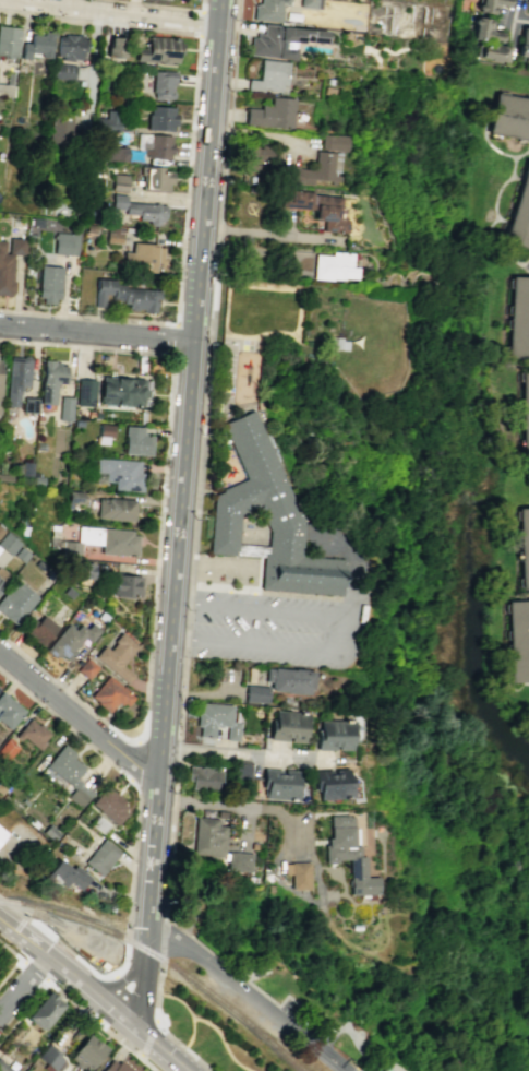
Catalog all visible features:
building: (178, 0)
building: (310, 3)
road: (163, 5)
building: (491, 5)
building: (268, 10)
road: (125, 11)
road: (519, 20)
road: (200, 23)
building: (8, 40)
building: (282, 40)
building: (488, 41)
building: (524, 43)
building: (37, 46)
building: (70, 47)
building: (115, 47)
building: (159, 50)
road: (93, 62)
building: (63, 71)
building: (269, 76)
building: (161, 84)
building: (272, 114)
building: (509, 116)
building: (160, 118)
building: (108, 120)
building: (59, 131)
building: (334, 142)
building: (155, 145)
building: (116, 154)
building: (254, 156)
road: (188, 166)
building: (318, 168)
building: (156, 179)
building: (318, 207)
building: (139, 209)
building: (520, 214)
road: (266, 233)
building: (113, 235)
building: (64, 243)
building: (143, 257)
building: (9, 261)
building: (333, 265)
building: (49, 284)
building: (128, 296)
building: (520, 320)
road: (96, 331)
road: (173, 337)
road: (208, 344)
building: (15, 378)
building: (50, 380)
building: (122, 391)
building: (85, 392)
building: (28, 405)
building: (64, 408)
building: (526, 412)
building: (104, 433)
building: (135, 441)
road: (166, 444)
building: (120, 473)
road: (181, 484)
building: (115, 509)
building: (266, 516)
building: (103, 542)
building: (8, 544)
road: (249, 544)
building: (524, 546)
road: (354, 568)
building: (83, 570)
building: (2, 576)
building: (124, 585)
building: (15, 602)
building: (39, 629)
parking lot: (275, 629)
road: (349, 635)
building: (70, 640)
building: (518, 641)
building: (116, 656)
building: (86, 668)
building: (288, 680)
road: (181, 693)
road: (201, 693)
building: (255, 693)
building: (109, 694)
road: (80, 701)
building: (9, 711)
road: (77, 717)
building: (215, 719)
building: (287, 725)
building: (32, 734)
building: (334, 734)
road: (244, 754)
building: (240, 771)
building: (68, 774)
building: (202, 777)
building: (332, 783)
building: (278, 784)
road: (173, 787)
road: (136, 797)
building: (108, 805)
road: (236, 806)
building: (219, 813)
building: (1, 833)
building: (207, 836)
building: (347, 853)
building: (100, 857)
building: (238, 861)
building: (65, 874)
building: (298, 874)
road: (208, 876)
road: (194, 896)
railway: (74, 917)
road: (163, 920)
road: (73, 924)
road: (175, 925)
road: (23, 935)
road: (57, 941)
road: (10, 951)
road: (142, 955)
road: (161, 966)
road: (65, 968)
building: (254, 968)
road: (36, 969)
road: (10, 972)
road: (158, 979)
road: (23, 981)
road: (191, 987)
road: (71, 989)
road: (118, 990)
road: (244, 990)
road: (259, 992)
road: (136, 993)
road: (103, 999)
road: (135, 1002)
road: (108, 1005)
railway: (226, 1007)
road: (156, 1008)
building: (44, 1010)
road: (190, 1012)
road: (95, 1020)
parking lot: (305, 1021)
park: (218, 1030)
road: (148, 1034)
road: (170, 1034)
road: (224, 1040)
road: (154, 1043)
road: (368, 1046)
building: (85, 1052)
road: (142, 1054)
building: (48, 1057)
road: (199, 1059)
road: (147, 1064)
road: (315, 1066)
building: (115, 1067)
wastewater plant: (349, 1067)
building: (3, 1068)
building: (15, 1069)
road: (340, 1070)

